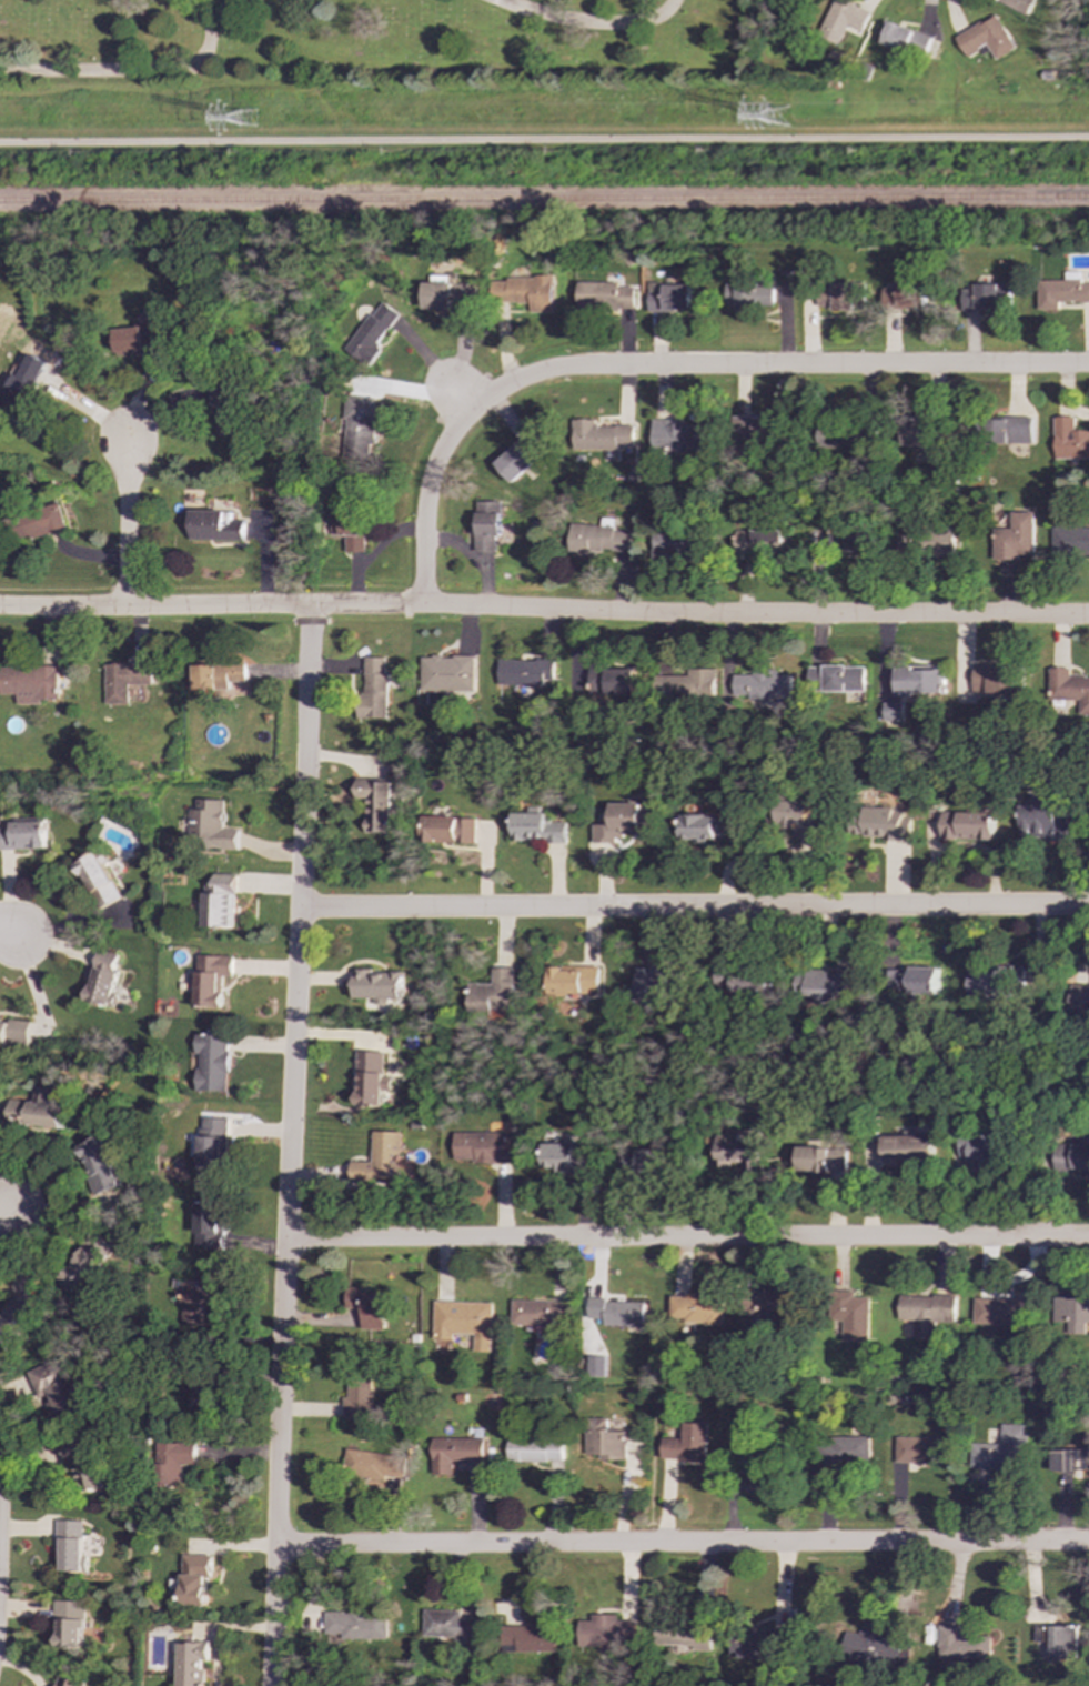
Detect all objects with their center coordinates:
building: (1018, 4)
road: (586, 21)
building: (843, 21)
building: (987, 38)
park: (1082, 40)
park: (386, 42)
road: (134, 74)
power tower: (780, 119)
power tower: (249, 121)
road: (544, 139)
railway: (544, 200)
building: (521, 291)
building: (1061, 291)
building: (823, 295)
building: (846, 295)
building: (903, 295)
building: (446, 297)
building: (603, 297)
building: (667, 297)
building: (982, 297)
building: (370, 333)
building: (139, 339)
road: (670, 368)
building: (21, 388)
road: (458, 397)
building: (224, 412)
building: (357, 428)
building: (755, 430)
building: (1010, 430)
building: (599, 435)
building: (675, 436)
building: (1068, 440)
building: (520, 456)
building: (38, 522)
road: (124, 523)
building: (212, 525)
building: (485, 525)
building: (346, 528)
building: (596, 538)
building: (1015, 538)
building: (854, 539)
building: (758, 542)
building: (941, 542)
building: (1070, 542)
building: (906, 543)
road: (154, 606)
road: (366, 606)
road: (755, 615)
building: (523, 672)
building: (445, 673)
building: (219, 676)
building: (612, 679)
building: (837, 679)
building: (124, 681)
building: (998, 681)
building: (29, 683)
building: (688, 684)
building: (763, 684)
building: (1069, 688)
building: (372, 689)
building: (894, 712)
building: (374, 804)
building: (623, 822)
building: (1045, 822)
building: (881, 824)
building: (968, 825)
building: (206, 826)
building: (706, 826)
building: (535, 827)
building: (447, 830)
building: (23, 835)
building: (98, 880)
building: (219, 901)
road: (693, 907)
road: (7, 932)
building: (103, 979)
building: (209, 979)
building: (740, 979)
building: (573, 980)
building: (914, 981)
building: (992, 983)
building: (375, 985)
building: (829, 985)
building: (656, 987)
building: (493, 992)
building: (1079, 996)
building: (3, 1032)
building: (211, 1062)
building: (370, 1078)
building: (210, 1141)
road: (289, 1145)
building: (482, 1147)
building: (907, 1148)
building: (739, 1150)
building: (980, 1150)
building: (1072, 1156)
building: (565, 1158)
building: (820, 1158)
building: (379, 1160)
building: (645, 1162)
building: (99, 1165)
road: (1, 1215)
building: (206, 1224)
road: (686, 1237)
building: (89, 1260)
building: (196, 1299)
building: (366, 1306)
building: (696, 1308)
building: (1001, 1311)
building: (617, 1312)
building: (538, 1313)
building: (925, 1314)
building: (1075, 1314)
building: (22, 1315)
building: (853, 1316)
building: (464, 1322)
building: (596, 1366)
building: (57, 1387)
building: (203, 1396)
building: (357, 1398)
building: (750, 1438)
building: (604, 1439)
building: (686, 1444)
building: (534, 1447)
building: (920, 1449)
building: (1002, 1449)
building: (453, 1453)
building: (1069, 1459)
building: (84, 1462)
building: (172, 1462)
building: (373, 1466)
building: (71, 1544)
road: (682, 1545)
building: (192, 1579)
building: (68, 1624)
building: (355, 1624)
building: (450, 1626)
building: (605, 1632)
building: (686, 1635)
building: (528, 1639)
building: (1058, 1640)
building: (755, 1642)
building: (961, 1644)
building: (873, 1648)
building: (189, 1663)
building: (67, 1682)

